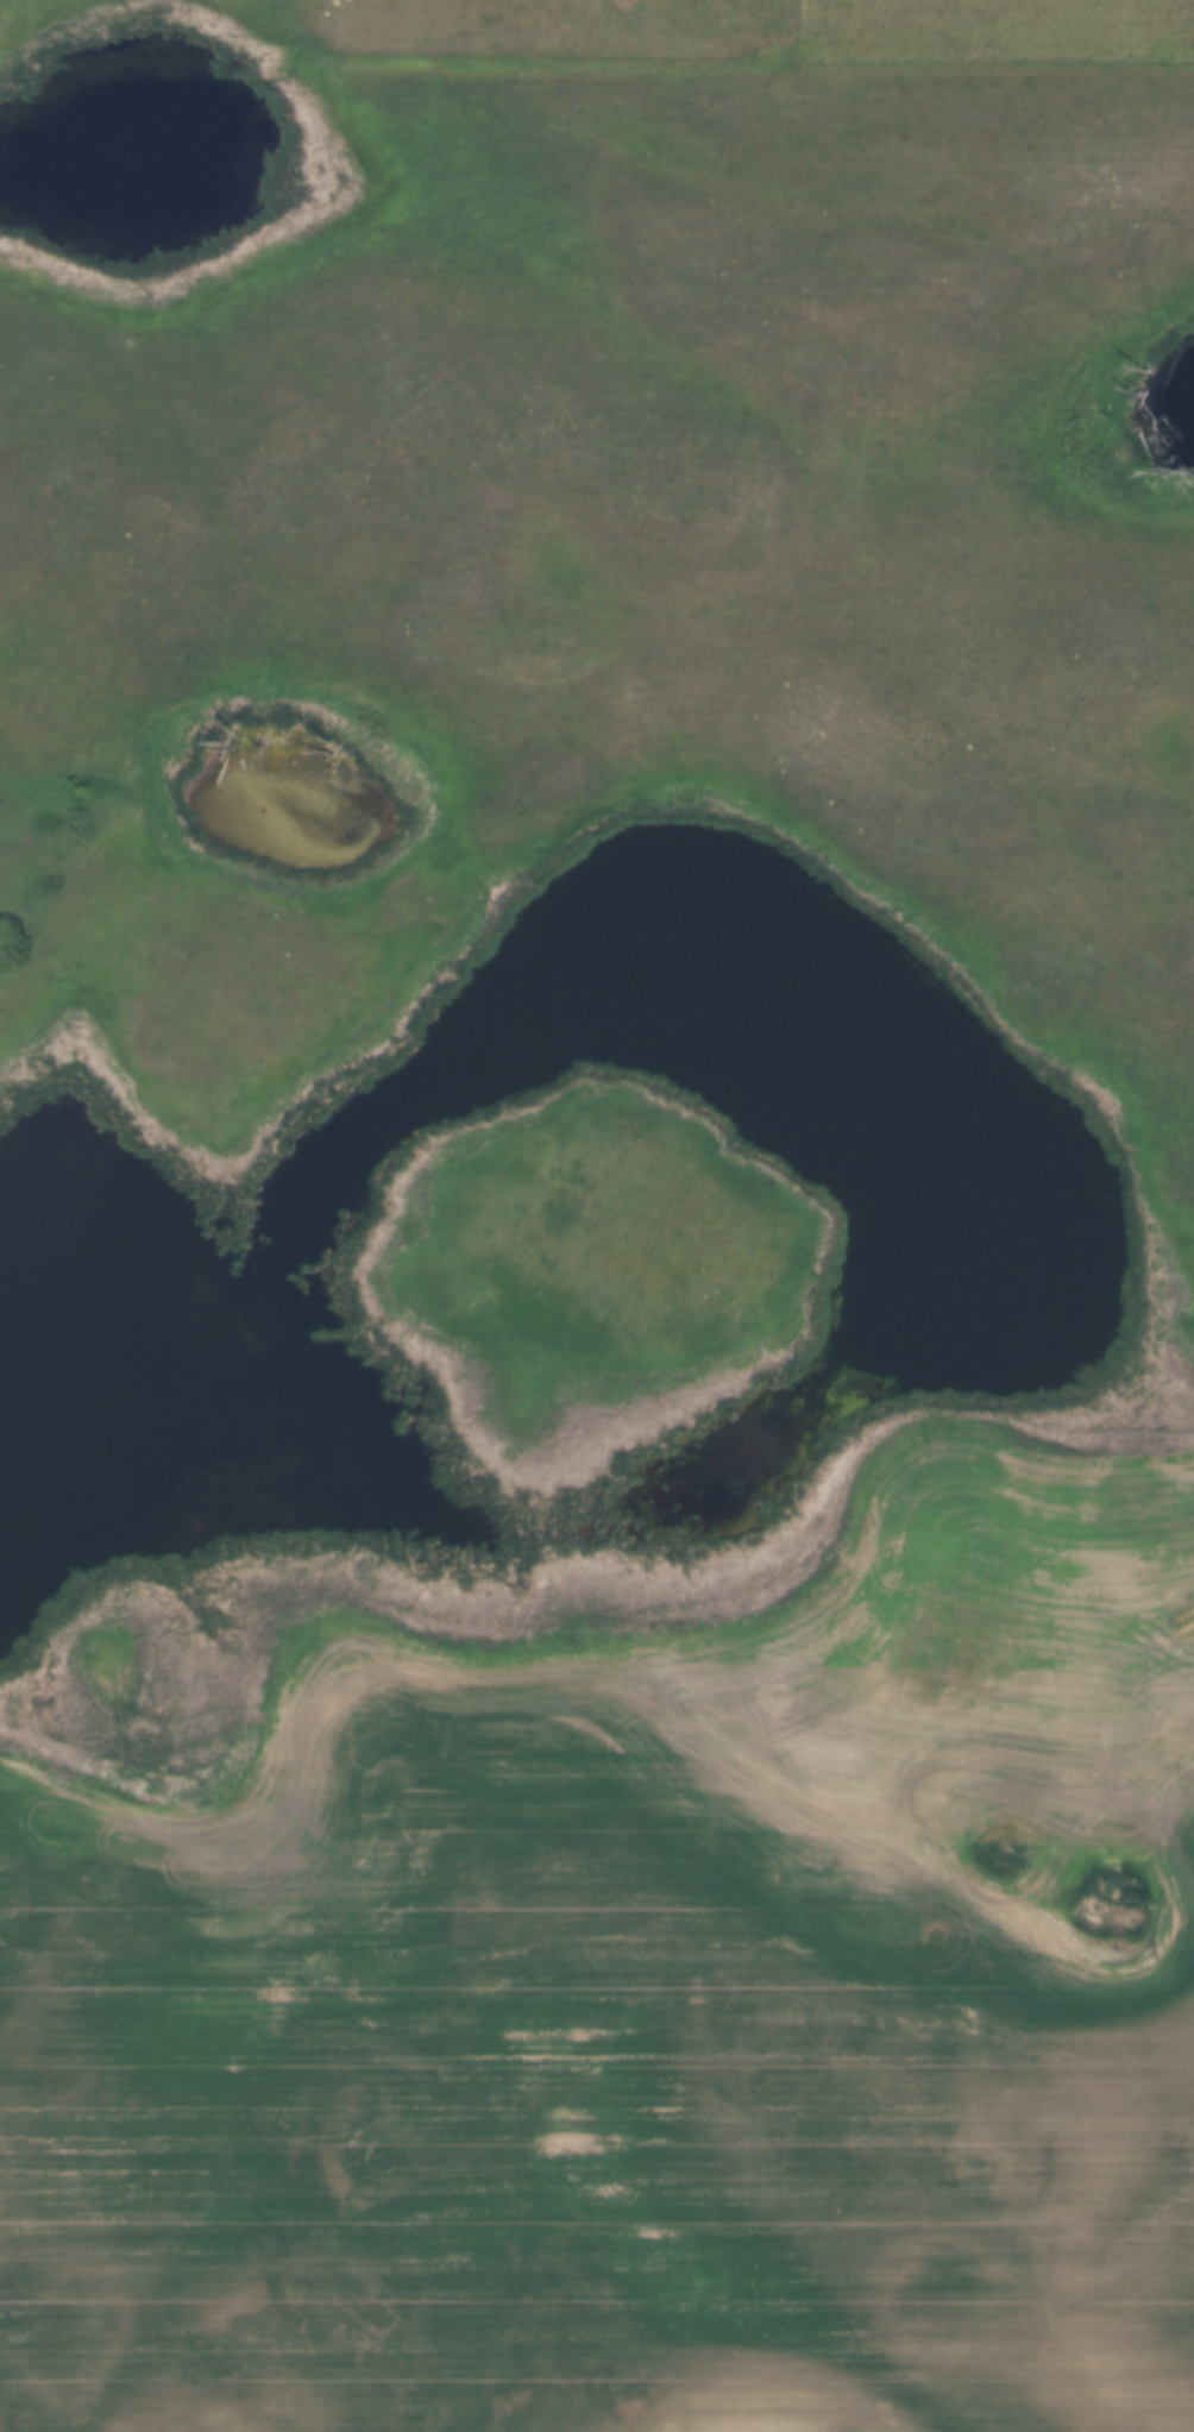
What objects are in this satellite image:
road: (597, 75)

